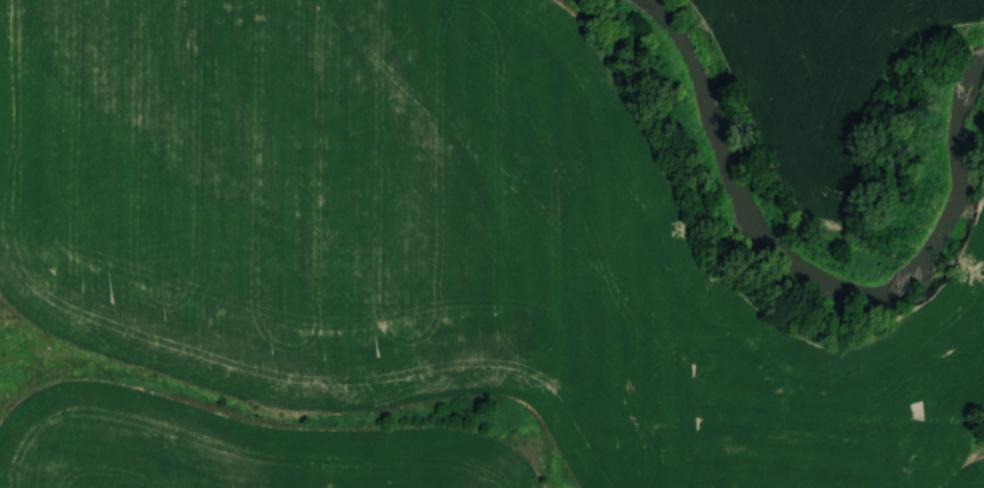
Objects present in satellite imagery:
river: (808, 273)

